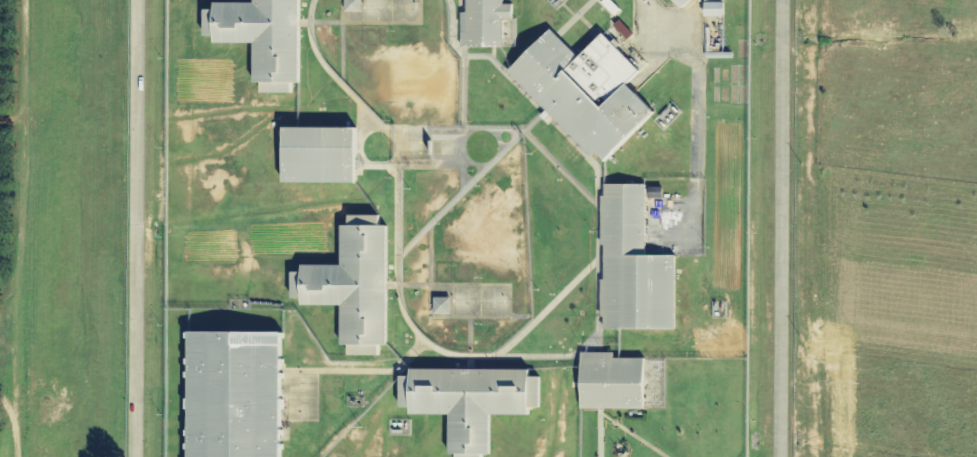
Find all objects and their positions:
building: (679, 2)
building: (350, 5)
building: (712, 9)
building: (482, 23)
building: (260, 38)
building: (582, 92)
building: (317, 155)
road: (133, 228)
road: (778, 228)
building: (630, 266)
building: (350, 285)
building: (439, 306)
building: (609, 382)
building: (232, 394)
building: (467, 402)

